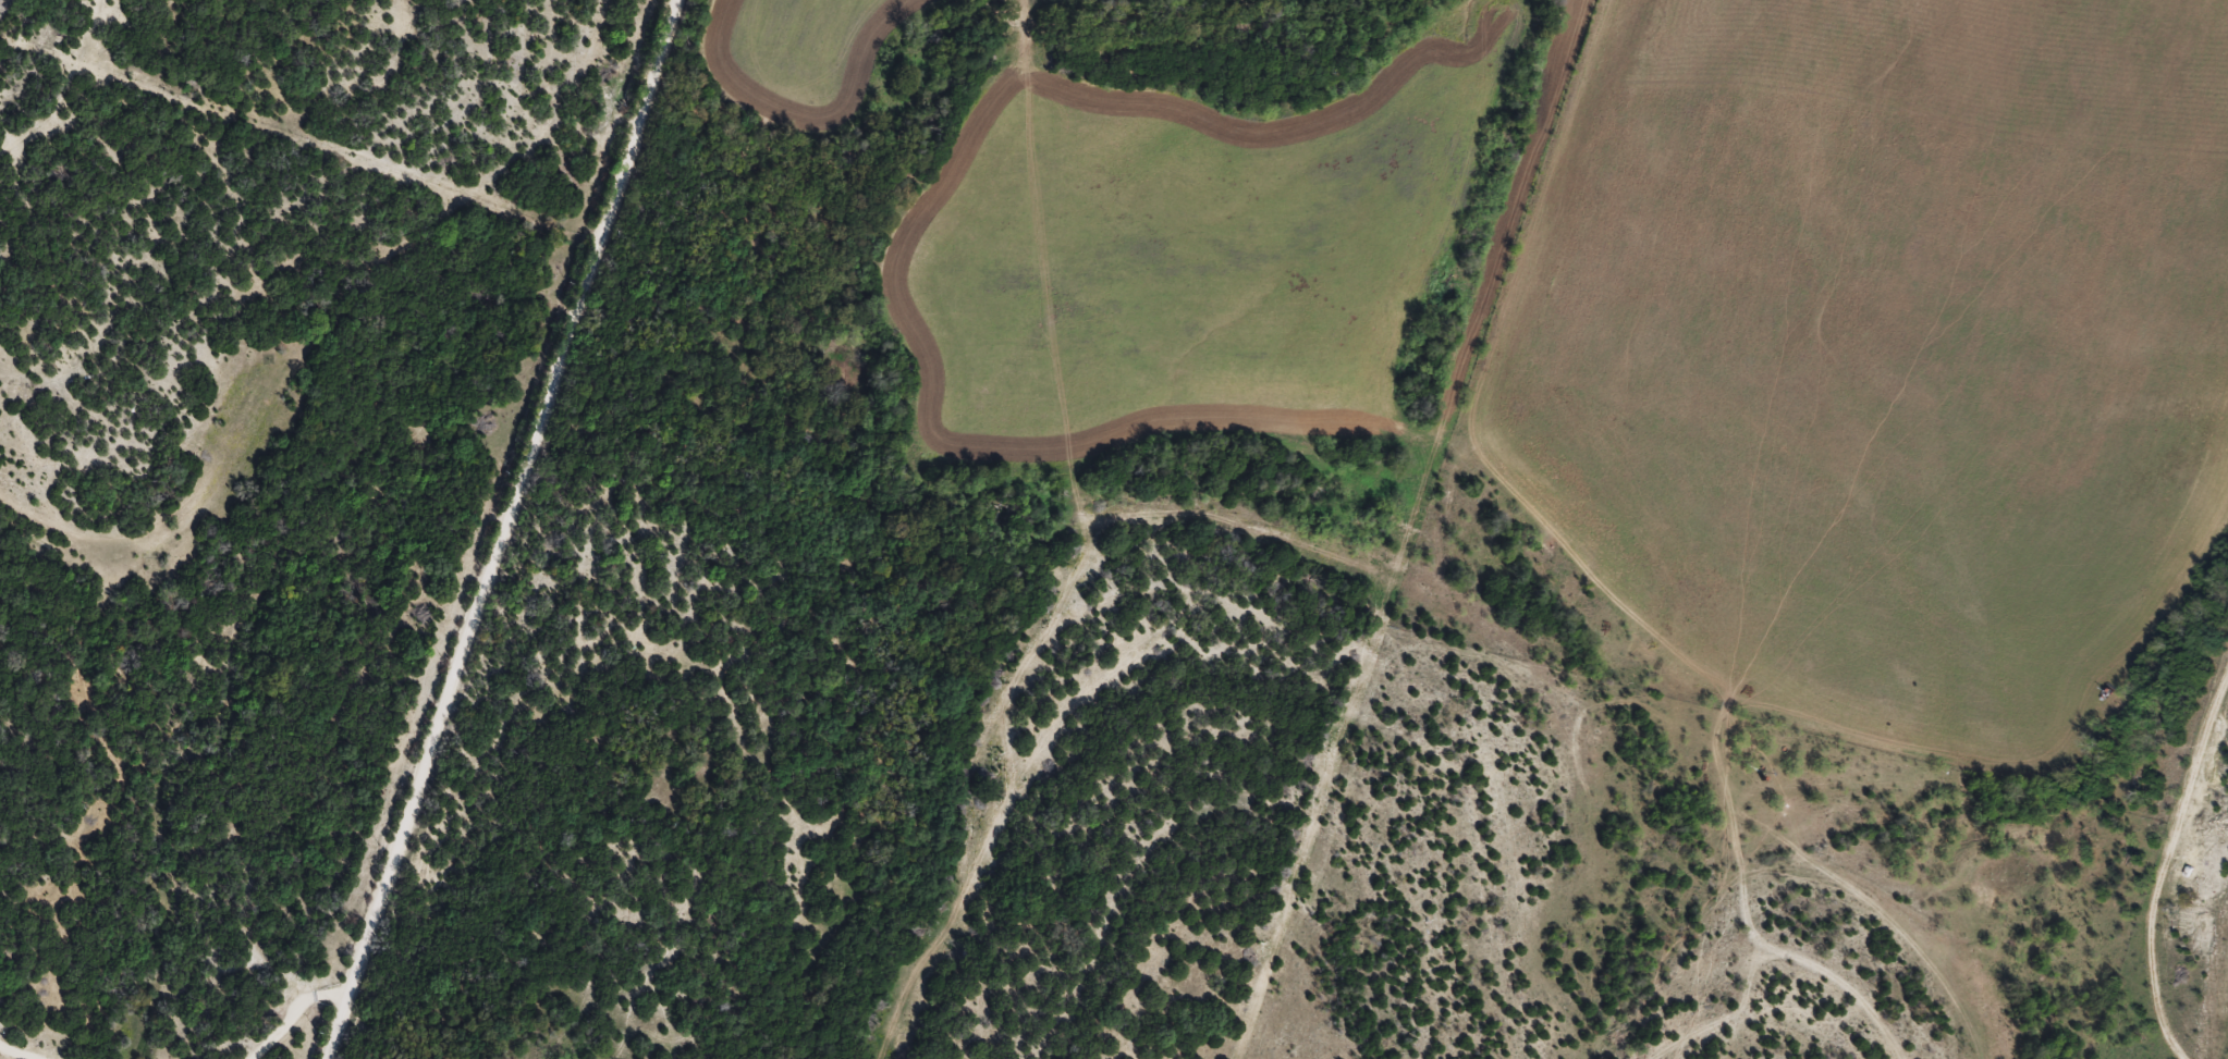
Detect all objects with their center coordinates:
road: (497, 528)

